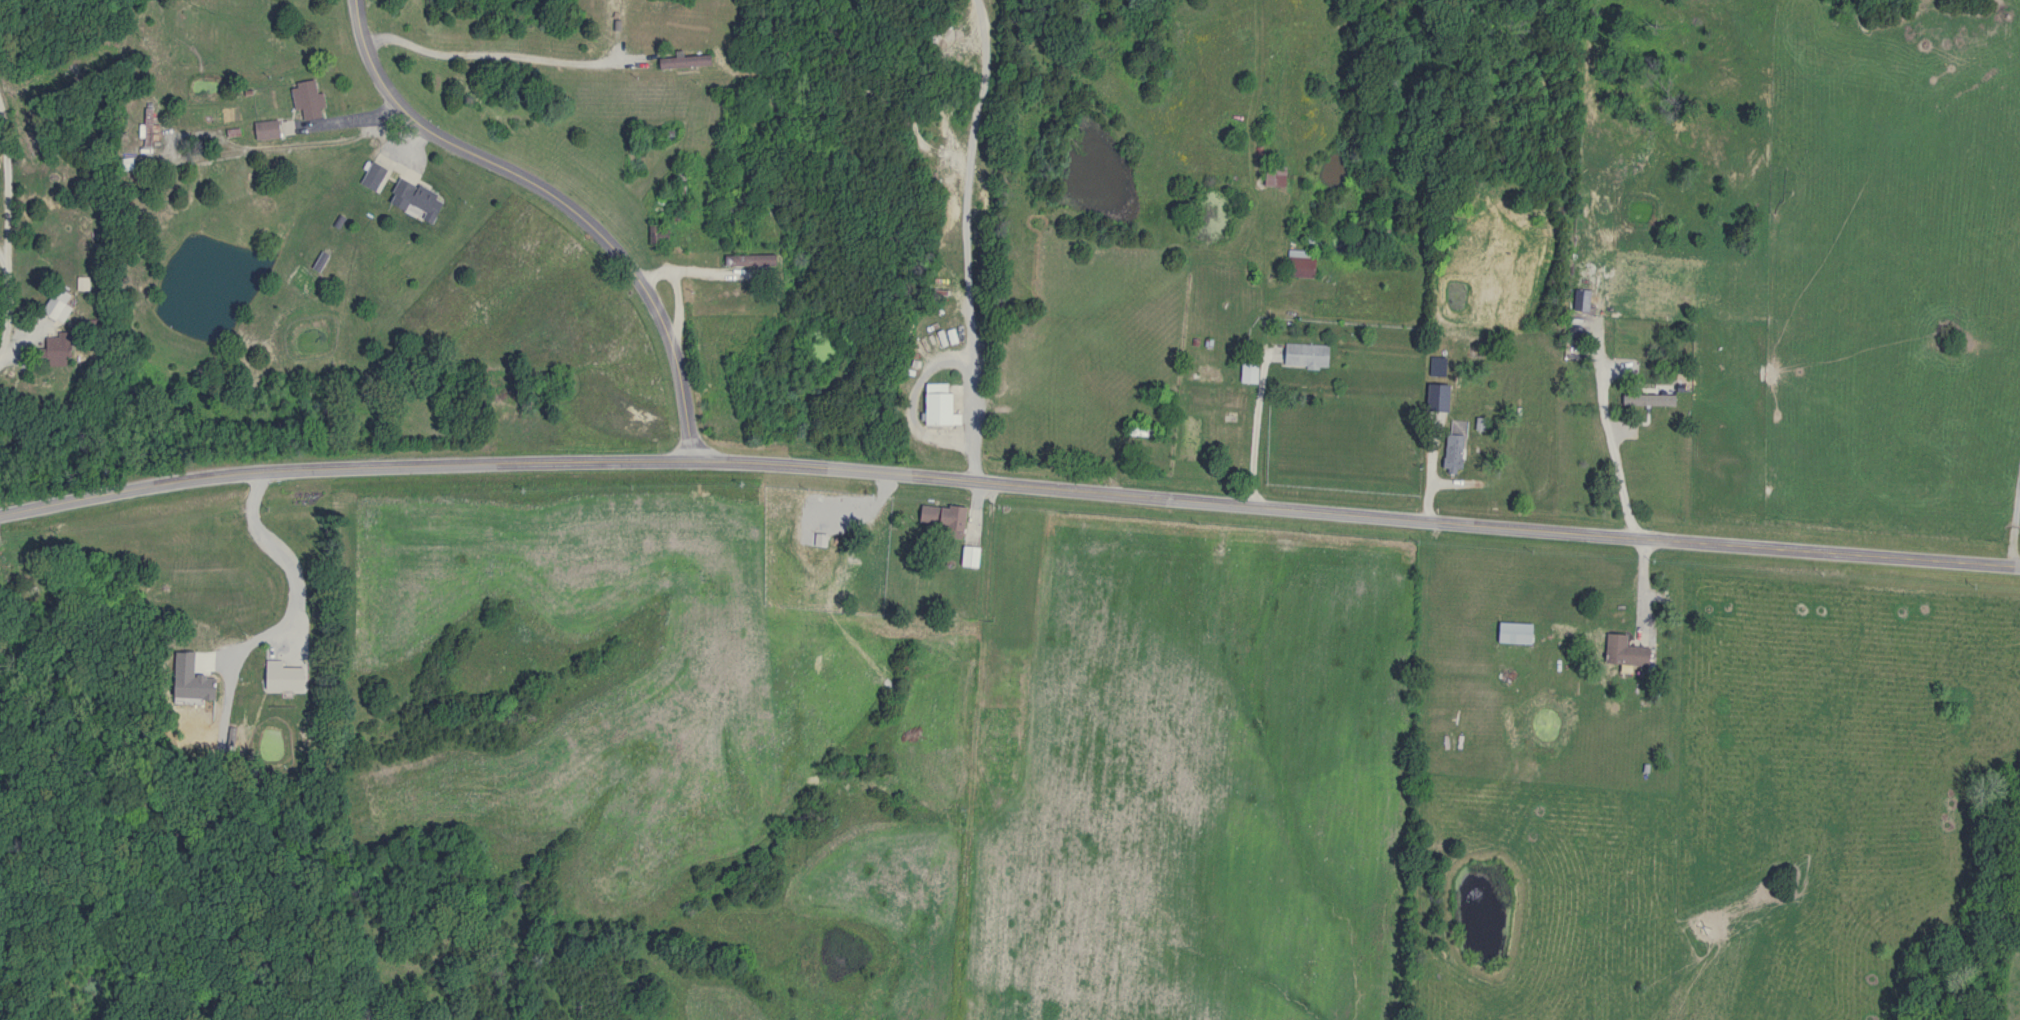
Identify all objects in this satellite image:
road: (489, 52)
building: (688, 61)
building: (312, 99)
building: (270, 129)
road: (243, 147)
building: (377, 175)
building: (1269, 176)
road: (558, 198)
building: (419, 199)
road: (4, 232)
building: (663, 233)
road: (976, 241)
building: (753, 259)
building: (1304, 263)
building: (84, 283)
building: (60, 305)
building: (61, 349)
building: (1308, 356)
building: (1253, 371)
building: (1212, 375)
building: (943, 404)
road: (1252, 427)
road: (1609, 444)
building: (1451, 452)
road: (1009, 482)
road: (2012, 511)
building: (944, 517)
road: (280, 552)
building: (972, 556)
building: (1509, 633)
building: (1620, 650)

